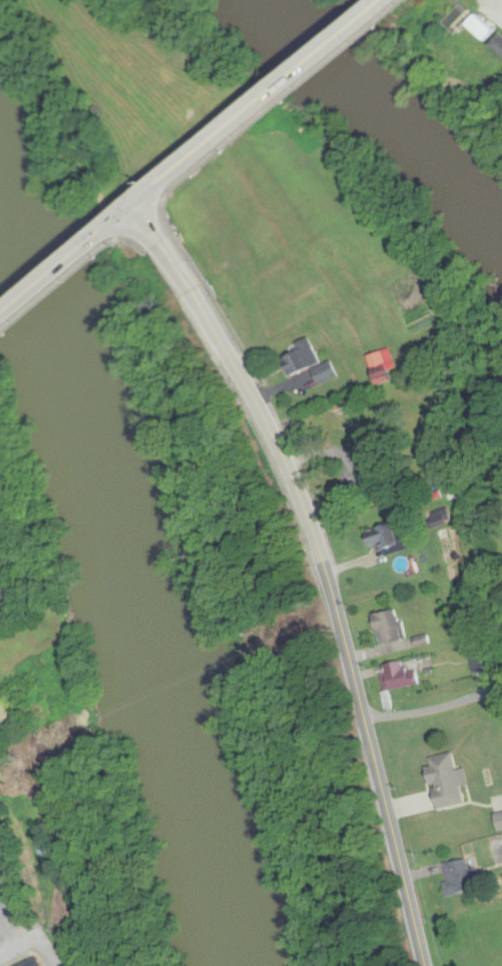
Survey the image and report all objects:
road: (321, 48)
river: (383, 109)
road: (201, 146)
road: (162, 236)
road: (69, 251)
building: (303, 360)
building: (383, 367)
building: (327, 373)
building: (366, 462)
building: (386, 540)
river: (127, 560)
road: (336, 610)
building: (390, 627)
building: (401, 674)
building: (1, 720)
building: (443, 788)
building: (499, 821)
building: (1, 881)
road: (23, 908)
building: (35, 962)

